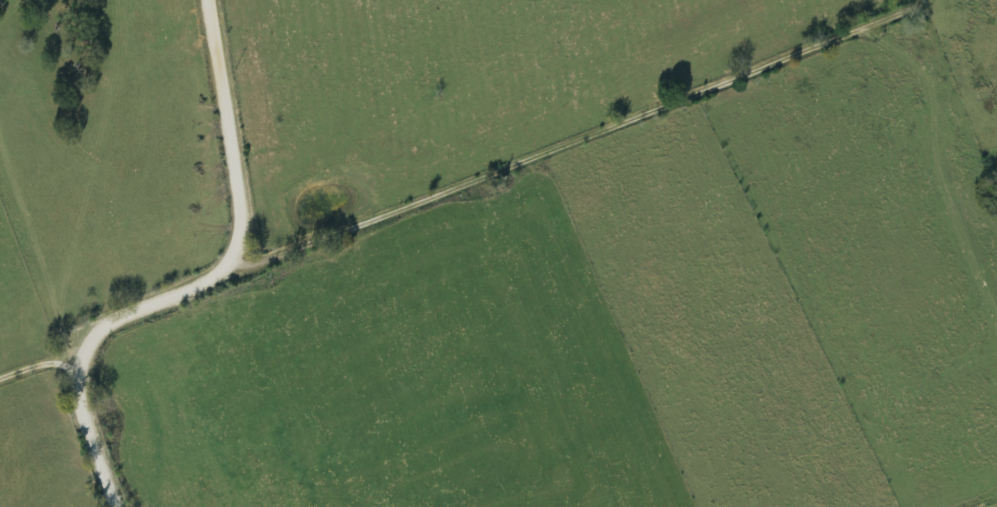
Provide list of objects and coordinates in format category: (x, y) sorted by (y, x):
road: (565, 144)
road: (197, 282)
road: (37, 363)

